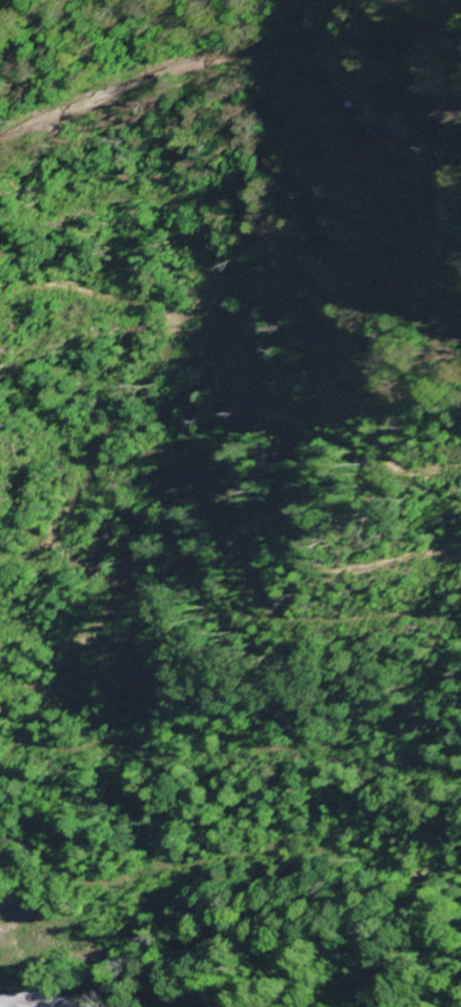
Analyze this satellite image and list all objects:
road: (33, 999)

